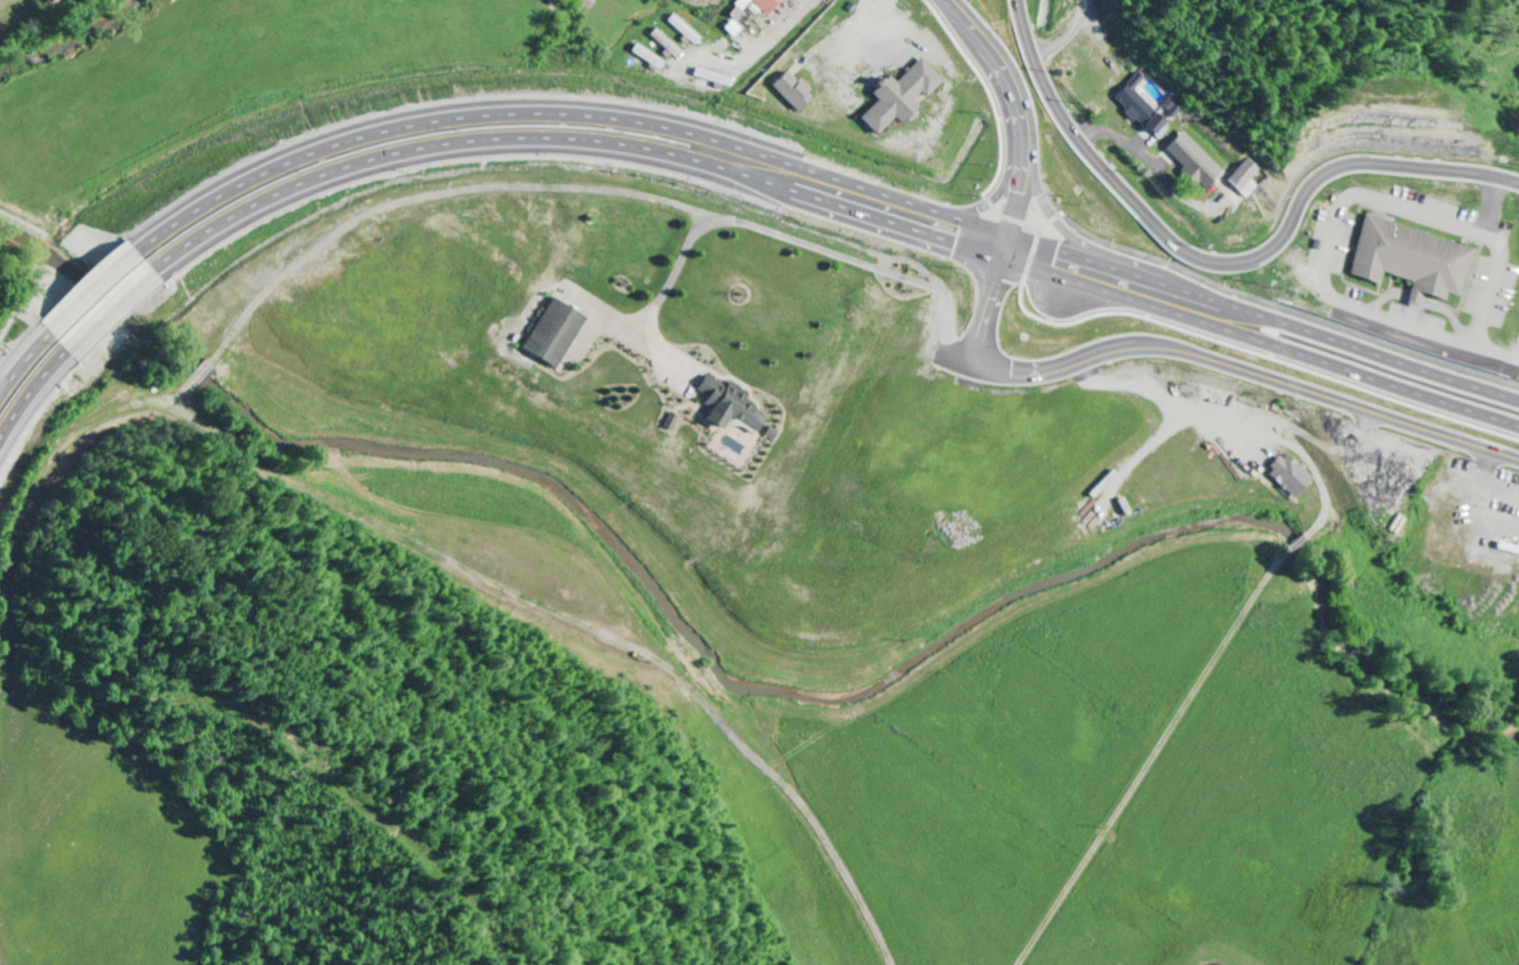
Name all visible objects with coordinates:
building: (50, 1)
building: (588, 3)
road: (1087, 3)
building: (744, 4)
building: (769, 5)
building: (734, 29)
building: (685, 31)
river: (71, 39)
road: (1068, 40)
road: (771, 41)
building: (666, 44)
building: (651, 59)
building: (794, 92)
building: (901, 97)
road: (1023, 102)
building: (1178, 109)
building: (1145, 110)
road: (566, 112)
road: (572, 142)
road: (1124, 144)
building: (1197, 161)
building: (1250, 179)
road: (1003, 190)
road: (1356, 201)
road: (1051, 209)
traffic signals: (1016, 229)
traffic signals: (1008, 255)
building: (1420, 260)
road: (1217, 264)
road: (92, 291)
road: (1267, 314)
road: (113, 316)
building: (554, 334)
road: (1263, 339)
road: (1179, 352)
road: (1497, 358)
road: (27, 366)
road: (36, 402)
building: (729, 405)
road: (1222, 420)
building: (671, 422)
building: (1290, 476)
road: (1307, 540)
river: (758, 668)
road: (672, 672)
road: (1156, 761)

